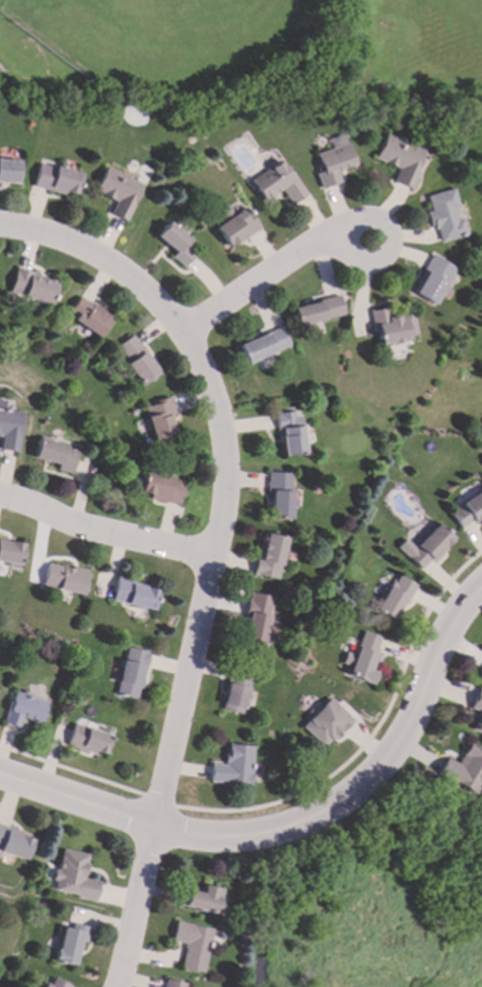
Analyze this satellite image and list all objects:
park: (177, 52)
building: (400, 159)
building: (333, 161)
building: (9, 171)
building: (55, 180)
building: (277, 183)
building: (118, 192)
building: (445, 216)
building: (235, 226)
road: (385, 232)
building: (177, 244)
road: (261, 280)
building: (432, 280)
building: (31, 287)
building: (317, 311)
building: (89, 316)
building: (391, 327)
building: (263, 345)
building: (137, 361)
building: (160, 419)
building: (10, 428)
building: (291, 433)
building: (58, 455)
building: (163, 488)
building: (279, 493)
building: (468, 511)
road: (105, 533)
building: (427, 547)
road: (217, 551)
building: (11, 553)
building: (270, 556)
building: (66, 579)
building: (133, 595)
building: (395, 598)
building: (257, 619)
building: (363, 659)
building: (131, 674)
building: (234, 699)
building: (478, 709)
building: (25, 710)
building: (326, 723)
building: (88, 740)
building: (233, 767)
building: (464, 770)
road: (298, 794)
road: (297, 826)
building: (14, 842)
building: (73, 876)
park: (374, 899)
building: (203, 900)
building: (70, 944)
building: (191, 946)
building: (56, 984)
building: (172, 984)

